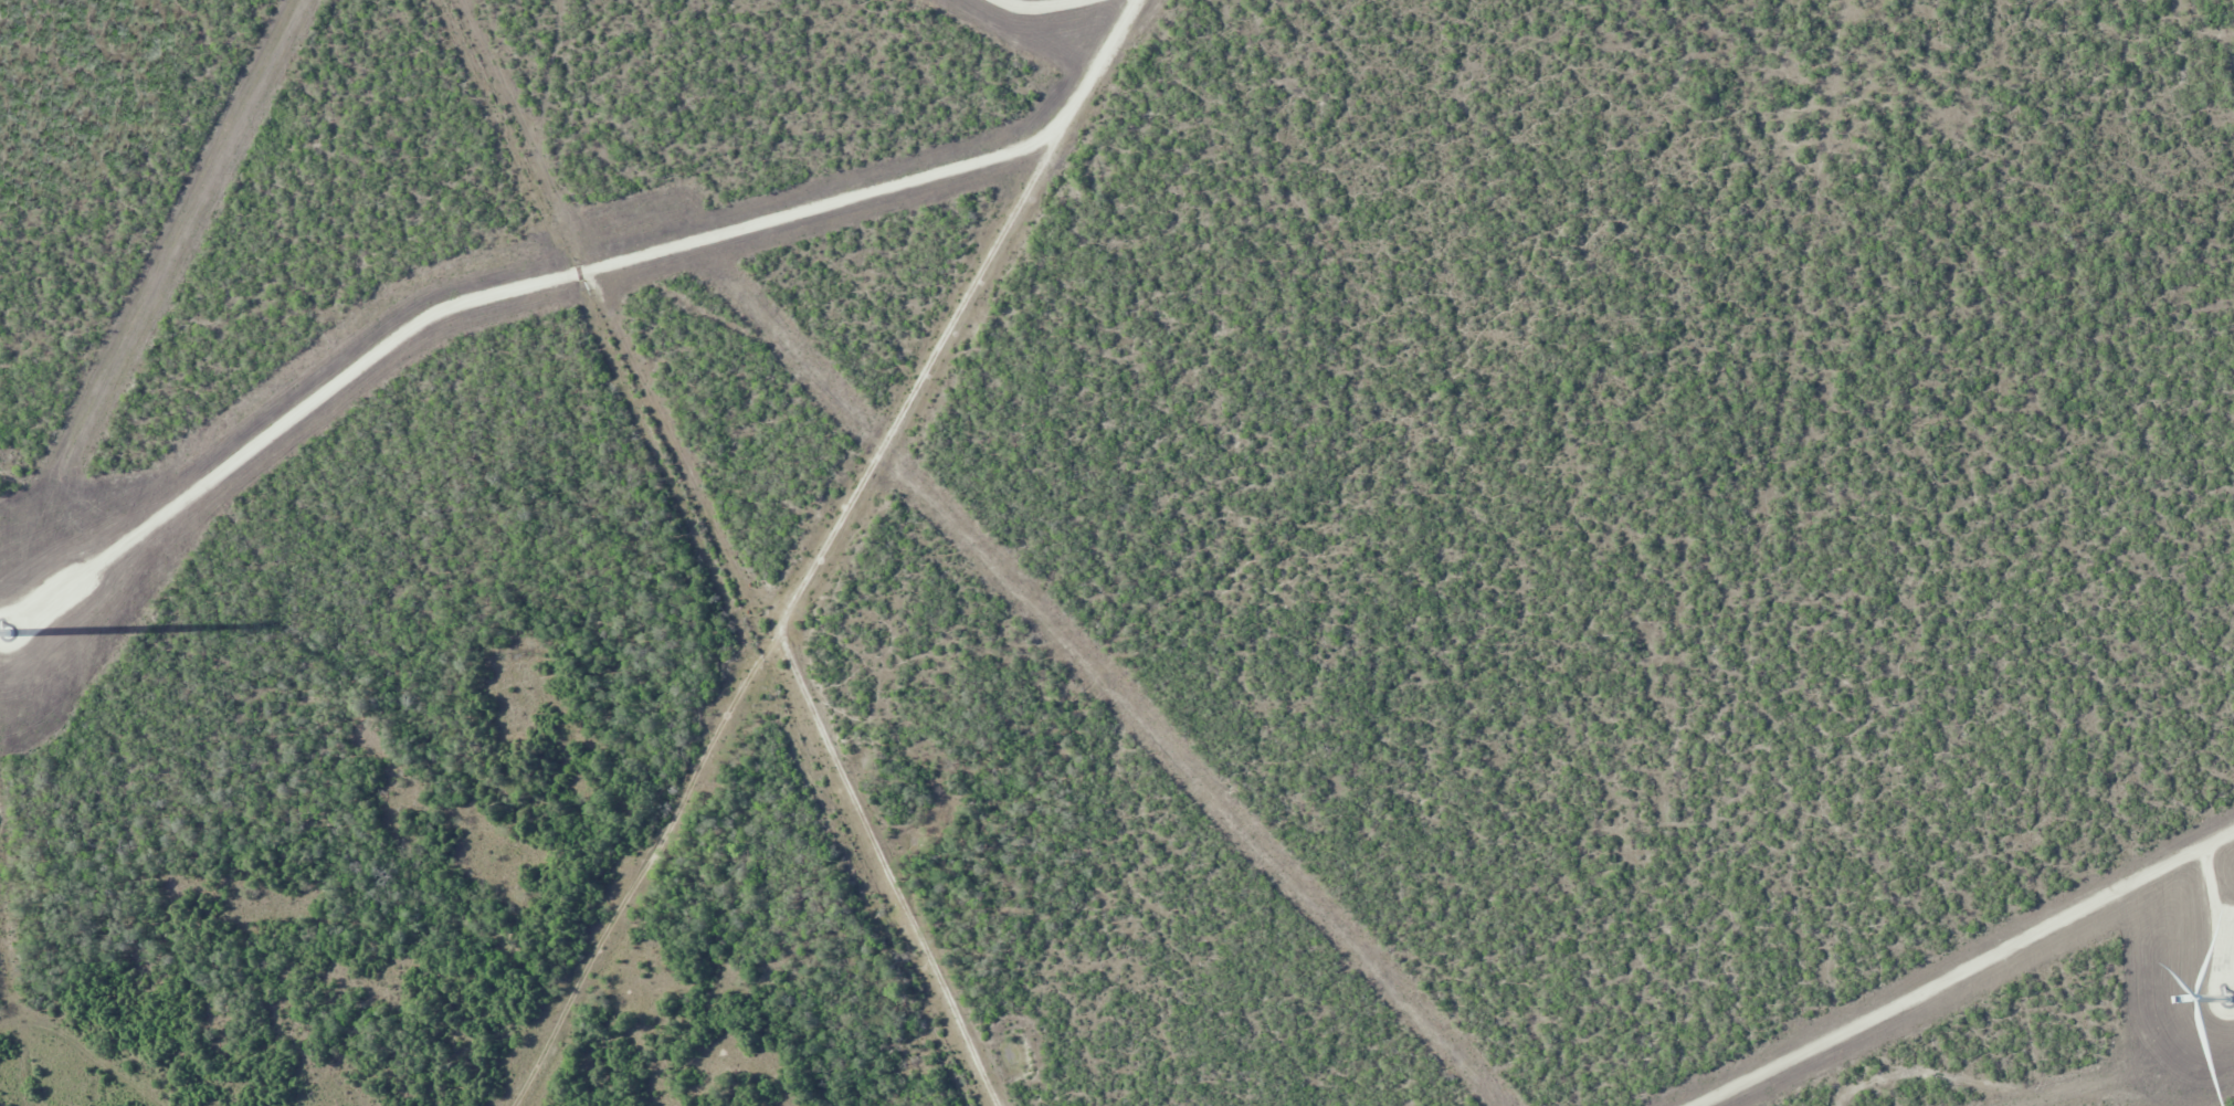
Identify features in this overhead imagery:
wind turbine: (13, 630)

